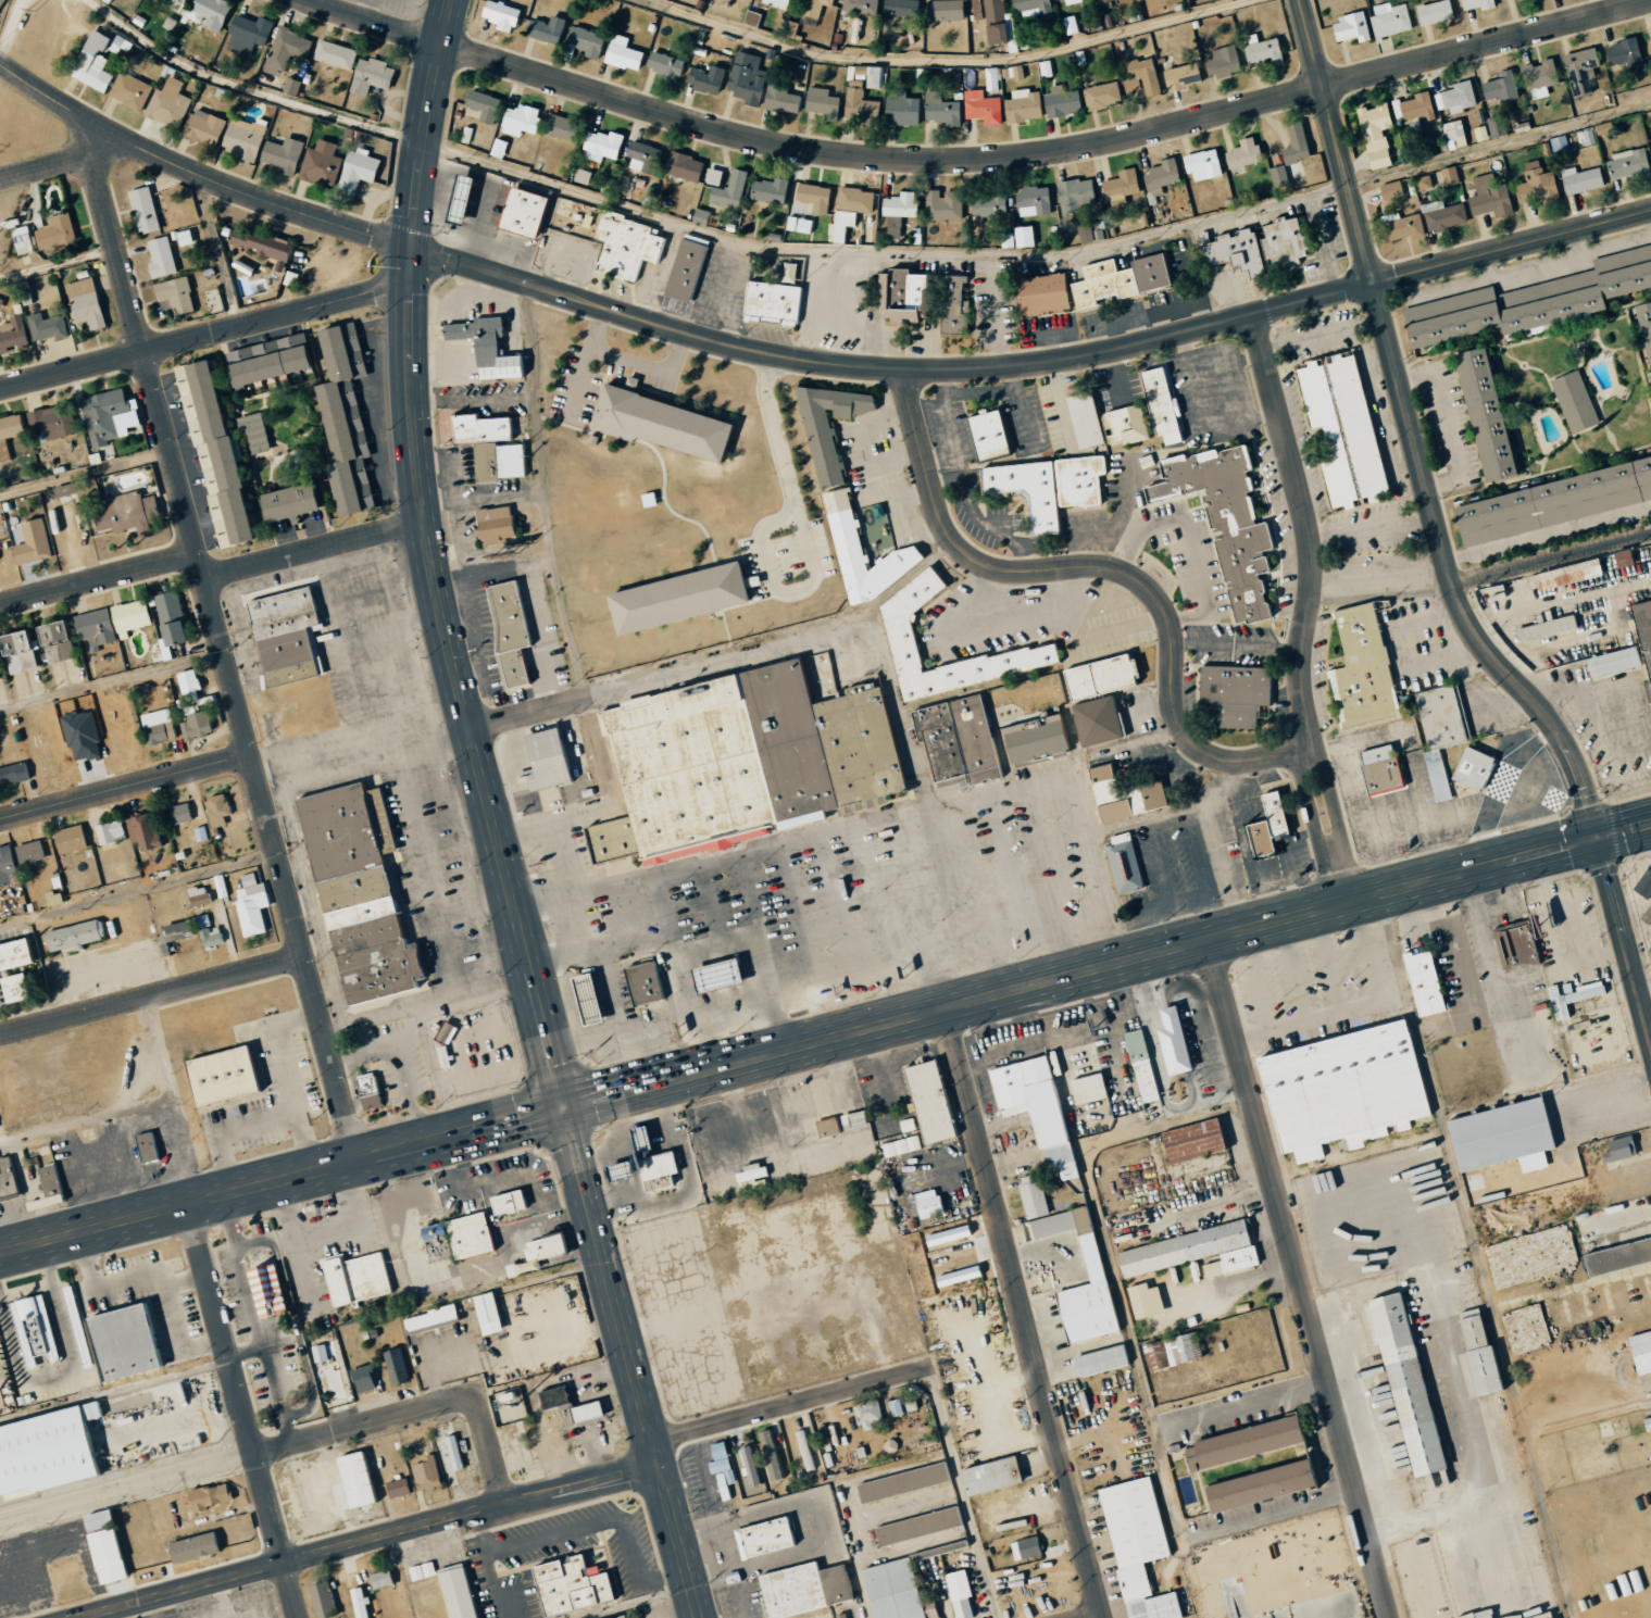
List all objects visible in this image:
building: (1054, 0)
building: (1071, 1)
building: (1102, 1)
building: (175, 3)
building: (774, 3)
building: (2, 4)
building: (1475, 4)
building: (813, 8)
building: (859, 8)
building: (900, 8)
building: (1033, 9)
power tower: (35, 10)
road: (366, 10)
building: (943, 10)
building: (976, 10)
building: (1434, 12)
building: (213, 13)
building: (498, 15)
building: (750, 18)
building: (1389, 20)
building: (992, 22)
road: (373, 23)
building: (1349, 27)
building: (545, 29)
building: (1008, 30)
building: (251, 35)
building: (583, 41)
building: (1649, 46)
building: (289, 50)
building: (1261, 51)
building: (621, 53)
building: (337, 54)
building: (1624, 54)
building: (101, 59)
road: (941, 61)
building: (1221, 61)
building: (664, 66)
building: (1581, 71)
building: (1539, 74)
building: (375, 76)
building: (1180, 76)
building: (873, 77)
building: (1140, 77)
road: (433, 78)
building: (704, 78)
building: (745, 78)
building: (295, 86)
building: (1499, 87)
building: (133, 91)
building: (1101, 96)
building: (1454, 97)
building: (780, 101)
road: (66, 103)
building: (822, 103)
building: (1061, 103)
building: (171, 104)
building: (859, 104)
building: (481, 105)
building: (1022, 105)
building: (1412, 106)
building: (981, 108)
building: (940, 109)
building: (900, 110)
building: (518, 121)
building: (562, 126)
building: (1494, 126)
building: (208, 127)
building: (1478, 133)
building: (1374, 134)
building: (1453, 134)
building: (1584, 137)
building: (247, 138)
building: (1293, 142)
building: (1558, 142)
building: (600, 146)
building: (497, 148)
road: (1047, 152)
building: (1241, 153)
building: (285, 155)
building: (643, 158)
building: (324, 164)
building: (1200, 164)
building: (1627, 165)
building: (681, 166)
road: (43, 167)
building: (361, 171)
building: (1448, 175)
building: (712, 176)
building: (1278, 176)
building: (1160, 177)
building: (1579, 179)
building: (1422, 183)
building: (1536, 185)
building: (1120, 187)
building: (729, 189)
building: (768, 190)
building: (1389, 190)
building: (1074, 195)
building: (813, 197)
building: (1488, 197)
building: (461, 200)
building: (854, 200)
building: (1031, 201)
road: (417, 204)
building: (899, 204)
building: (942, 204)
building: (986, 205)
road: (271, 208)
building: (148, 211)
building: (524, 212)
building: (1441, 215)
building: (798, 224)
building: (841, 224)
building: (1400, 226)
building: (891, 227)
building: (59, 231)
building: (1085, 233)
building: (1023, 236)
building: (188, 238)
building: (1281, 242)
building: (265, 244)
building: (625, 246)
building: (1233, 250)
road: (1038, 256)
building: (165, 258)
road: (57, 263)
road: (475, 267)
building: (685, 267)
building: (1623, 271)
building: (1149, 272)
building: (1101, 284)
building: (1038, 293)
building: (178, 296)
road: (359, 296)
building: (899, 297)
building: (1549, 301)
building: (768, 302)
building: (89, 303)
building: (951, 304)
road: (411, 306)
building: (1451, 316)
building: (1646, 325)
building: (50, 327)
building: (16, 335)
building: (487, 347)
road: (152, 349)
road: (1096, 353)
building: (270, 354)
road: (641, 361)
building: (1574, 401)
building: (1162, 405)
building: (1486, 414)
building: (112, 416)
building: (347, 418)
building: (1085, 419)
building: (57, 422)
building: (661, 423)
building: (1126, 425)
building: (829, 426)
building: (14, 427)
building: (1342, 428)
building: (255, 431)
building: (989, 435)
road: (1414, 436)
building: (0, 447)
building: (491, 447)
building: (215, 454)
building: (0, 457)
road: (84, 475)
building: (1080, 479)
building: (72, 488)
building: (1027, 491)
building: (292, 502)
building: (1554, 502)
building: (129, 513)
building: (1228, 524)
building: (496, 525)
road: (1373, 528)
road: (806, 532)
building: (36, 542)
building: (863, 551)
road: (314, 552)
road: (1552, 557)
building: (1621, 557)
road: (1105, 567)
building: (1565, 574)
road: (98, 578)
road: (1381, 595)
building: (679, 597)
building: (171, 605)
road: (1308, 607)
building: (135, 616)
building: (899, 626)
building: (99, 628)
building: (1544, 629)
building: (62, 634)
building: (182, 634)
building: (286, 634)
building: (511, 634)
road: (217, 635)
building: (1628, 649)
building: (25, 652)
road: (449, 652)
building: (0, 655)
building: (1363, 670)
building: (0, 673)
building: (1101, 676)
road: (111, 681)
building: (192, 683)
building: (1235, 692)
road: (529, 714)
building: (1441, 717)
building: (86, 719)
building: (1113, 722)
building: (161, 726)
building: (199, 726)
building: (1035, 735)
building: (958, 741)
building: (542, 760)
building: (742, 761)
building: (1471, 768)
building: (1377, 770)
building: (15, 774)
road: (925, 786)
road: (124, 787)
building: (1124, 795)
building: (221, 810)
building: (183, 813)
building: (1268, 826)
road: (1312, 829)
building: (147, 831)
road: (1624, 831)
building: (115, 832)
building: (203, 833)
traffic signals: (1598, 838)
building: (74, 839)
road: (1550, 850)
building: (33, 852)
building: (1124, 863)
building: (9, 866)
building: (1644, 882)
road: (138, 889)
building: (360, 890)
building: (202, 895)
building: (254, 905)
building: (179, 929)
building: (211, 932)
building: (1647, 933)
building: (76, 935)
road: (1624, 937)
building: (1514, 945)
road: (772, 951)
building: (1648, 952)
building: (13, 954)
road: (1087, 970)
building: (717, 977)
gas station: (717, 977)
building: (1422, 982)
building: (645, 983)
building: (24, 988)
building: (13, 989)
building: (1569, 996)
road: (151, 999)
building: (589, 999)
gas station: (589, 999)
road: (538, 1021)
building: (1171, 1041)
road: (155, 1050)
building: (1140, 1066)
building: (224, 1077)
building: (368, 1083)
building: (1086, 1088)
building: (1340, 1089)
road: (615, 1093)
building: (927, 1101)
road: (134, 1107)
traffic signals: (559, 1109)
building: (1034, 1109)
road: (512, 1121)
building: (825, 1127)
building: (1499, 1136)
building: (1190, 1140)
building: (1616, 1149)
road: (572, 1159)
building: (654, 1170)
building: (54, 1180)
building: (3, 1191)
road: (232, 1192)
building: (1030, 1196)
building: (514, 1202)
building: (926, 1203)
building: (946, 1236)
building: (461, 1238)
building: (550, 1247)
building: (1191, 1251)
building: (1529, 1256)
building: (1617, 1256)
building: (1091, 1260)
building: (955, 1276)
building: (361, 1278)
road: (1298, 1279)
building: (267, 1289)
building: (1143, 1301)
building: (492, 1313)
road: (1024, 1313)
building: (435, 1318)
building: (35, 1329)
building: (1525, 1329)
building: (129, 1342)
building: (1172, 1350)
building: (1640, 1351)
building: (323, 1353)
building: (1476, 1353)
building: (1098, 1360)
building: (400, 1366)
building: (366, 1378)
building: (1402, 1379)
road: (788, 1403)
building: (506, 1409)
road: (242, 1410)
building: (585, 1413)
road: (641, 1413)
building: (866, 1414)
building: (1647, 1423)
road: (284, 1447)
building: (803, 1450)
building: (453, 1451)
building: (50, 1453)
building: (770, 1454)
building: (1649, 1454)
building: (1247, 1456)
building: (717, 1458)
building: (749, 1465)
building: (430, 1473)
building: (988, 1476)
building: (363, 1479)
building: (900, 1482)
building: (402, 1488)
building: (214, 1495)
building: (340, 1495)
building: (105, 1520)
building: (917, 1526)
building: (762, 1537)
road: (365, 1539)
building: (1135, 1545)
building: (198, 1547)
building: (1024, 1547)
building: (114, 1555)
building: (425, 1570)
building: (385, 1579)
building: (578, 1585)
building: (801, 1589)
building: (891, 1590)
building: (462, 1592)
building: (959, 1594)
building: (326, 1601)
building: (364, 1601)
road: (1092, 1615)
building: (627, 1617)
building: (843, 1617)

